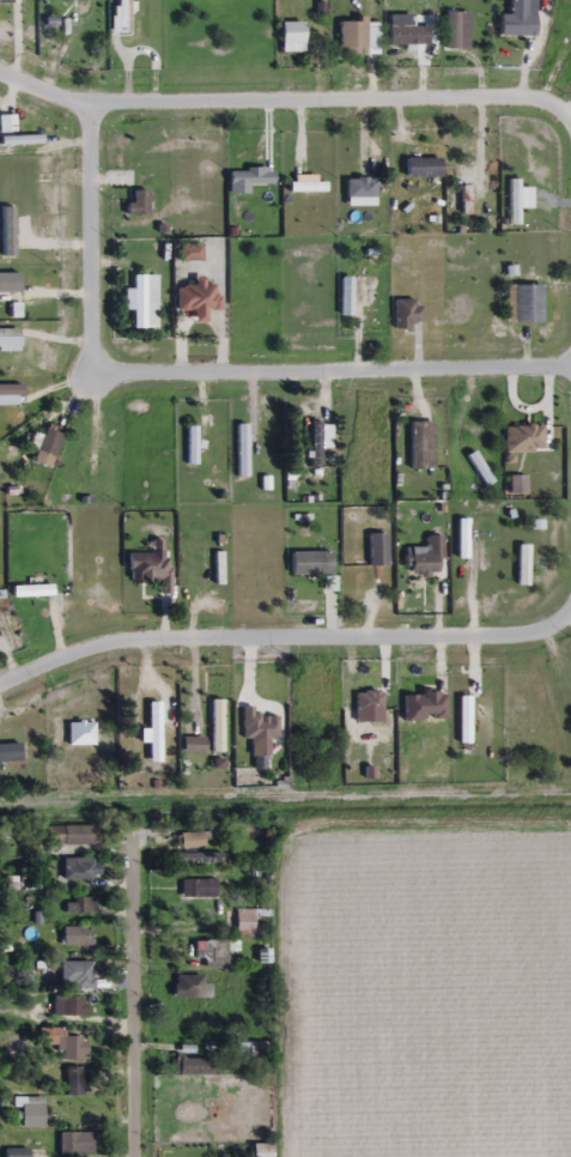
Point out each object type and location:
building: (11, 1)
building: (123, 17)
building: (291, 34)
road: (278, 101)
road: (565, 110)
building: (22, 140)
building: (423, 168)
building: (517, 200)
building: (139, 205)
building: (190, 253)
building: (6, 293)
building: (346, 297)
building: (198, 299)
building: (136, 301)
building: (527, 304)
building: (407, 316)
building: (22, 350)
road: (196, 372)
building: (320, 441)
building: (48, 442)
building: (193, 444)
building: (475, 456)
building: (108, 468)
building: (79, 555)
building: (427, 556)
building: (311, 562)
building: (215, 567)
building: (151, 568)
building: (32, 589)
road: (285, 637)
building: (464, 719)
building: (218, 726)
building: (154, 727)
building: (10, 752)
building: (72, 835)
building: (189, 840)
building: (199, 858)
building: (80, 868)
building: (199, 889)
building: (81, 905)
building: (78, 935)
building: (77, 975)
building: (192, 987)
road: (138, 998)
building: (71, 1006)
building: (68, 1044)
building: (249, 1052)
building: (194, 1066)
building: (74, 1080)
building: (32, 1111)
building: (77, 1144)
building: (261, 1151)
building: (17, 1152)

